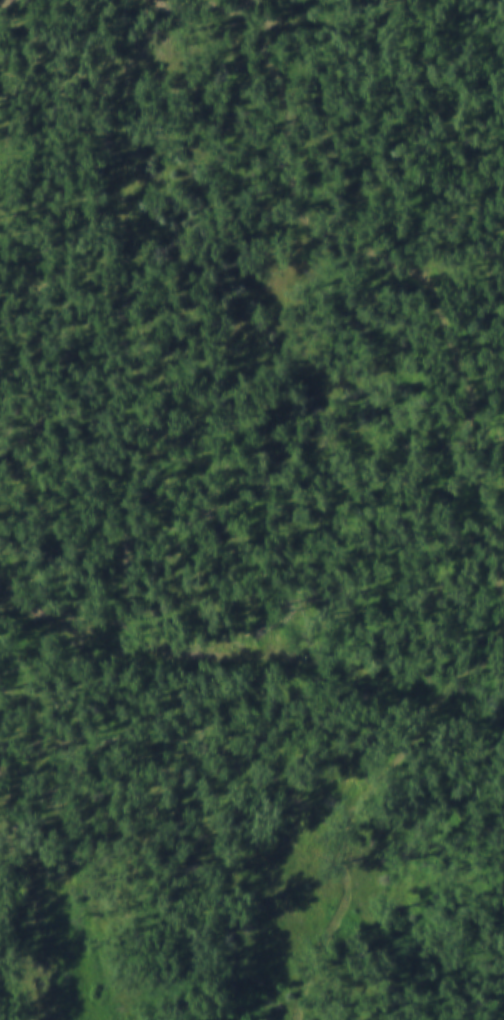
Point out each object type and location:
road: (207, 5)
road: (483, 501)
park: (252, 510)

